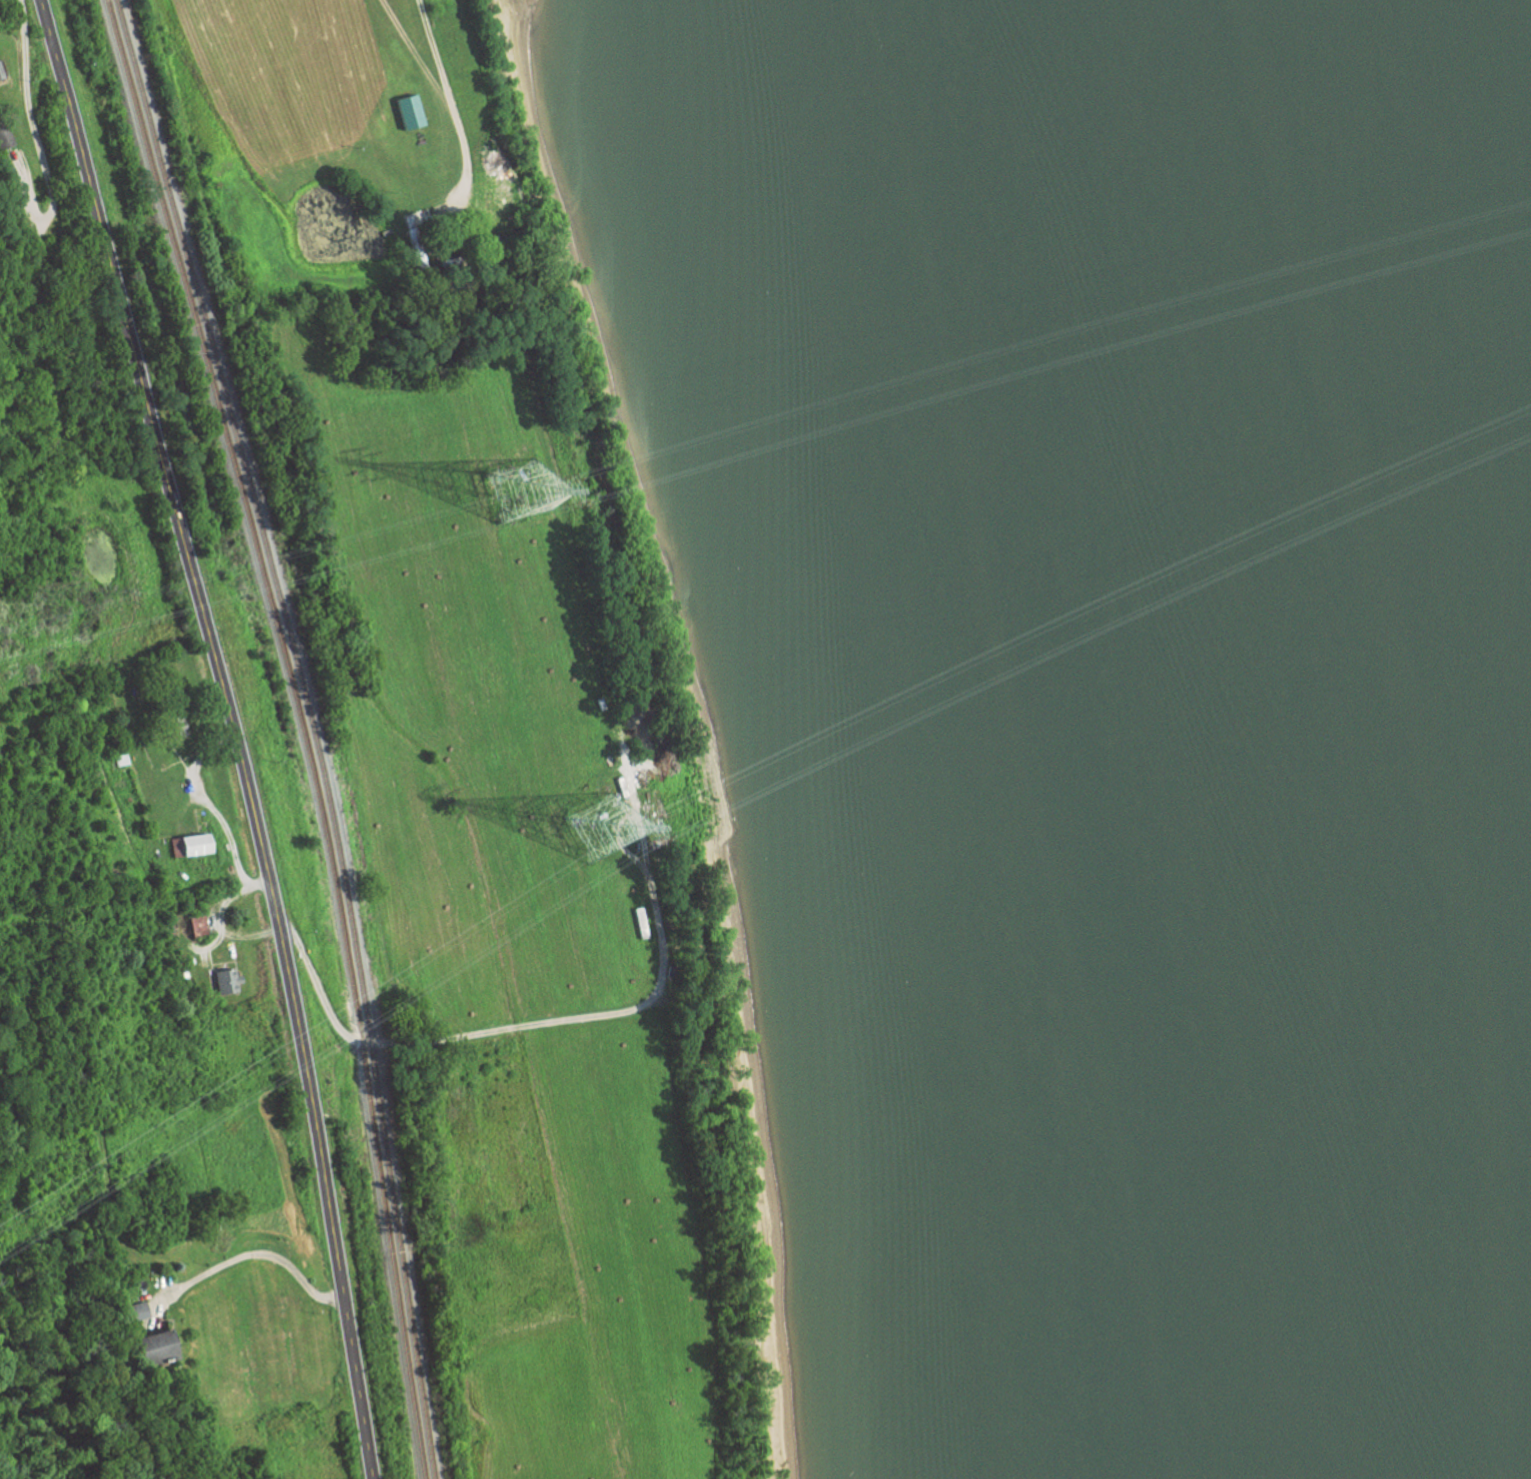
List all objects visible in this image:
road: (441, 74)
road: (34, 142)
power tower: (513, 497)
crop: (485, 705)
railway: (302, 731)
railway: (311, 731)
road: (232, 733)
river: (1295, 736)
power tower: (598, 831)
road: (662, 980)
road: (250, 1254)

